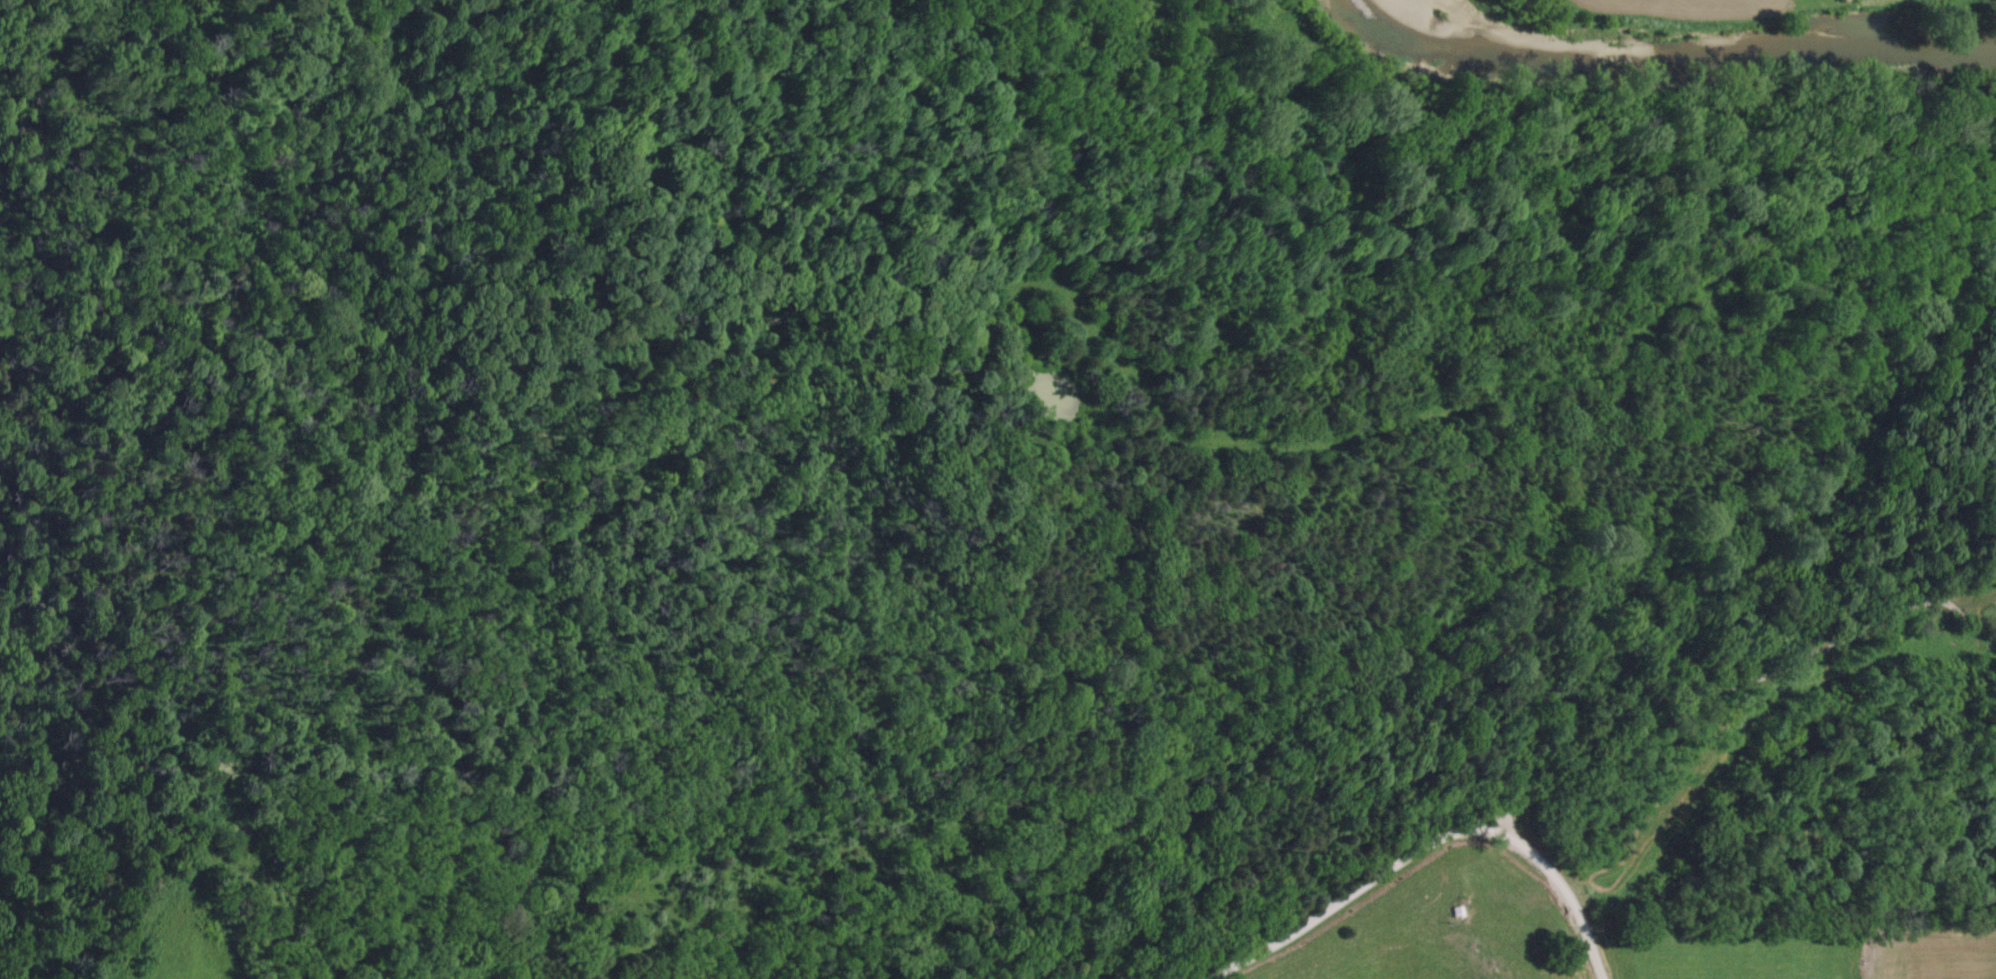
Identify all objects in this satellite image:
river: (1671, 47)
road: (1739, 684)
road: (1437, 848)
crop: (1587, 934)

